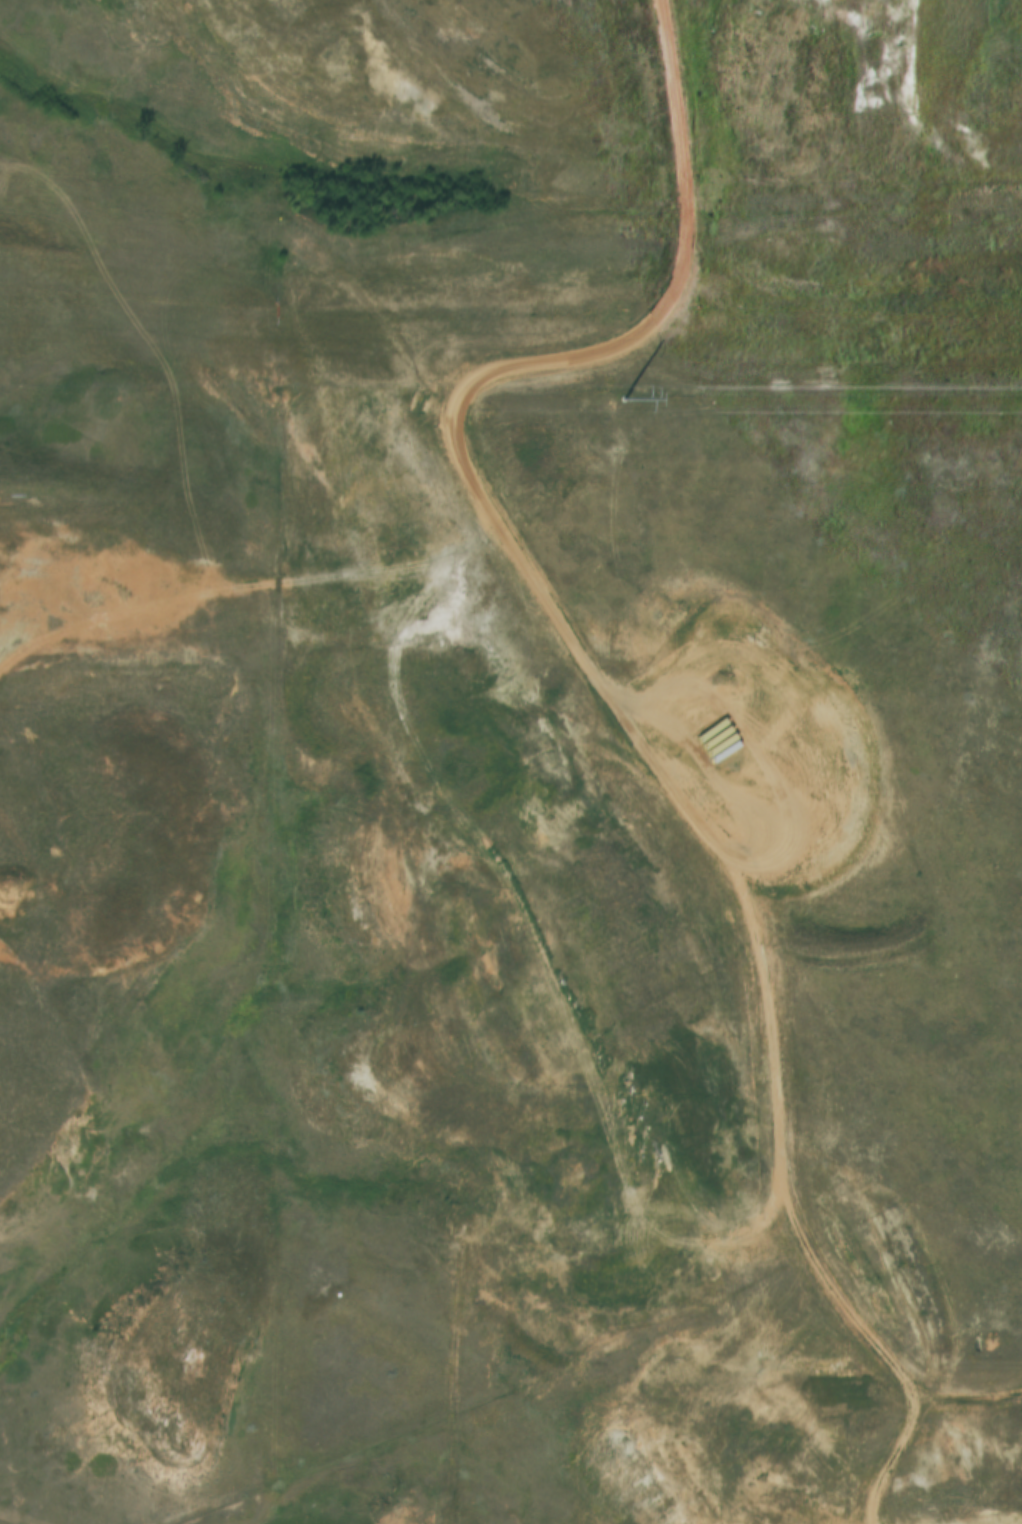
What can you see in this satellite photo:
quarry: (614, 180)
power tower: (619, 407)
quarry: (101, 582)
road: (473, 696)
quarry: (142, 849)
quarry: (667, 1365)
quarry: (166, 1384)

